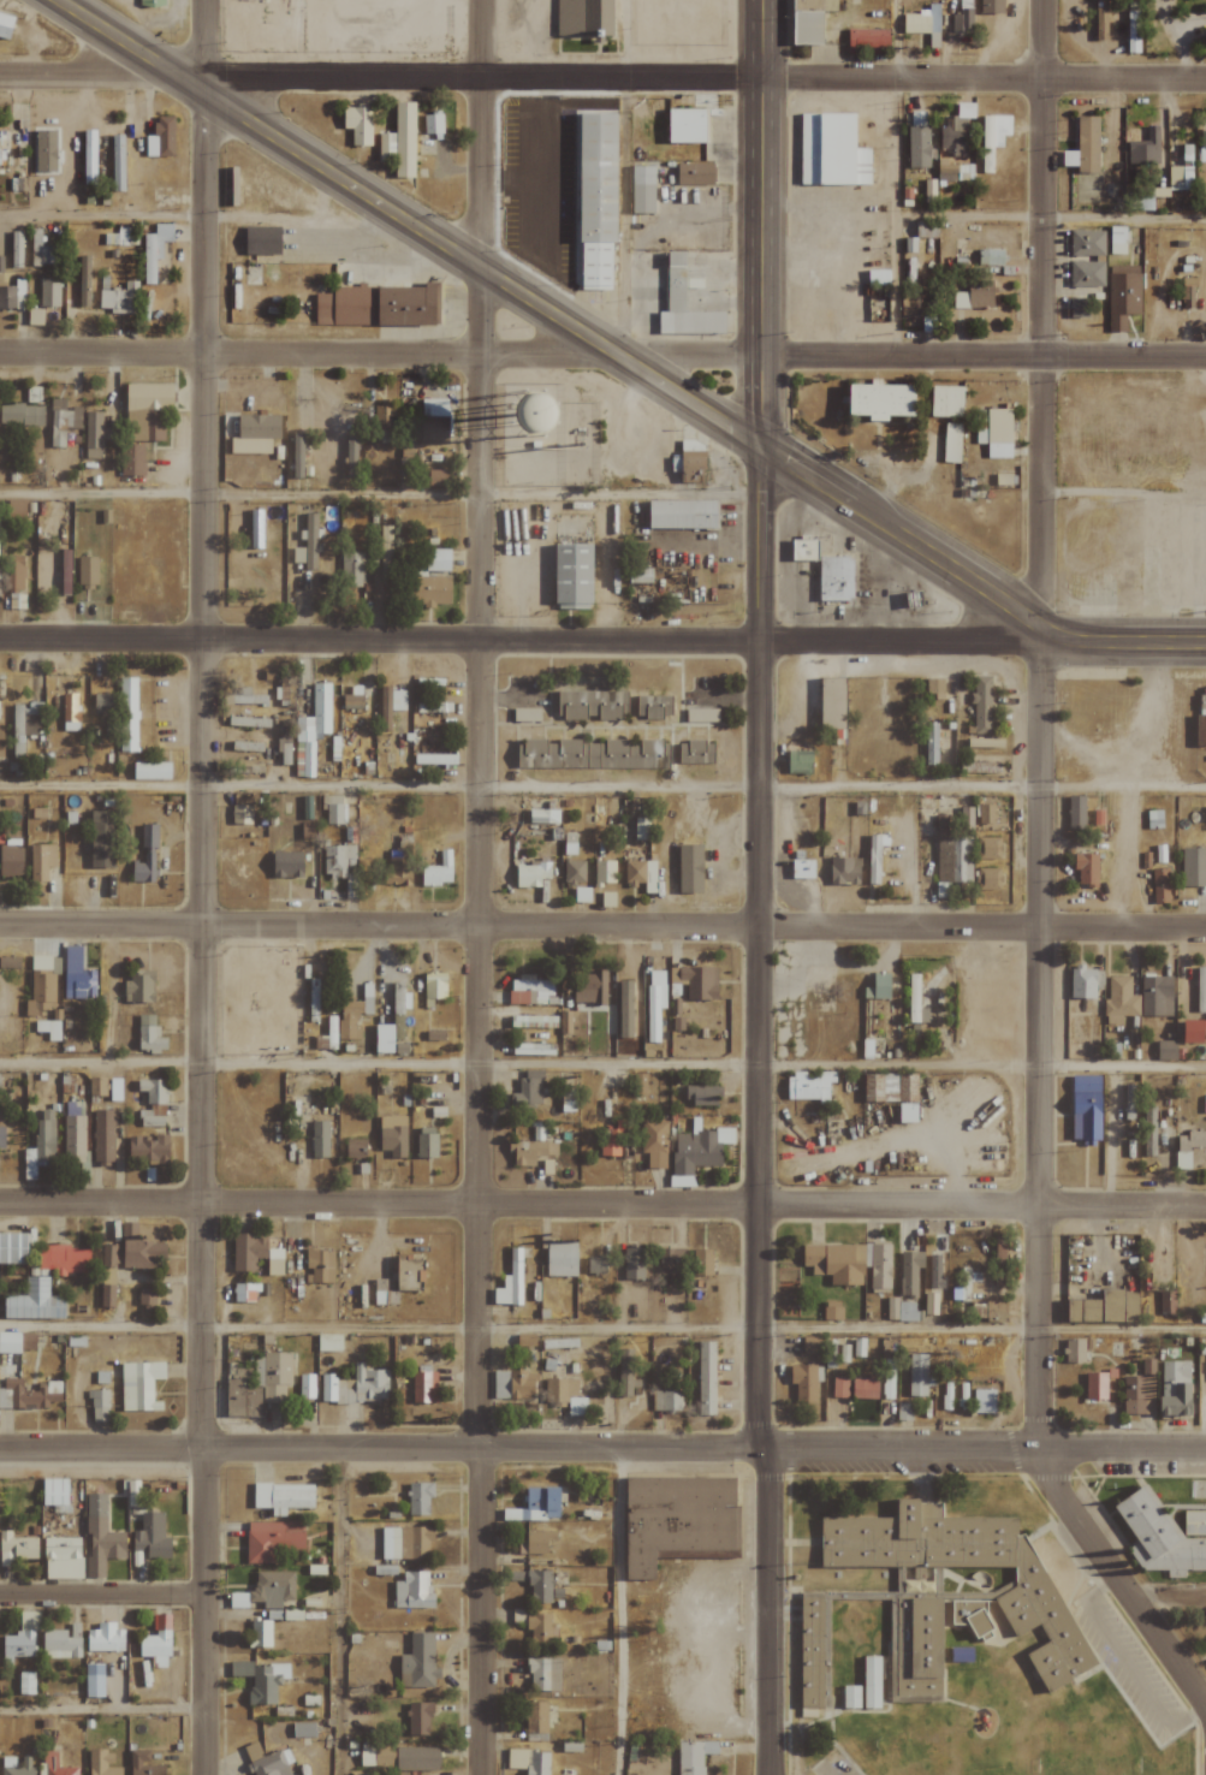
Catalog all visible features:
building: (152, 4)
building: (816, 4)
building: (991, 6)
building: (586, 18)
building: (921, 22)
building: (961, 22)
building: (6, 26)
building: (809, 26)
road: (892, 38)
building: (1133, 38)
building: (868, 40)
road: (79, 72)
road: (481, 76)
road: (982, 78)
building: (358, 125)
building: (433, 125)
building: (688, 125)
building: (952, 136)
building: (161, 138)
building: (992, 138)
building: (916, 139)
building: (405, 141)
building: (1088, 144)
building: (1202, 147)
building: (2, 148)
building: (387, 148)
building: (1146, 149)
building: (44, 150)
building: (831, 150)
building: (90, 158)
building: (118, 164)
building: (953, 172)
building: (696, 174)
building: (1142, 176)
building: (1180, 178)
building: (643, 190)
building: (928, 191)
building: (596, 194)
building: (1139, 200)
road: (101, 214)
road: (1050, 216)
road: (895, 218)
road: (409, 222)
building: (926, 230)
building: (1115, 235)
building: (124, 238)
building: (263, 242)
building: (1086, 243)
building: (16, 250)
building: (155, 250)
building: (40, 251)
building: (990, 257)
building: (1, 265)
building: (1086, 274)
building: (877, 278)
building: (84, 283)
building: (1188, 290)
building: (1123, 293)
building: (49, 295)
building: (12, 297)
building: (119, 298)
building: (973, 299)
building: (910, 303)
building: (685, 305)
building: (346, 307)
building: (409, 307)
building: (1079, 308)
building: (35, 316)
building: (1116, 323)
road: (380, 356)
road: (984, 358)
building: (884, 400)
building: (946, 402)
building: (148, 410)
building: (560, 412)
building: (22, 415)
building: (434, 417)
water tower: (535, 418)
building: (384, 422)
building: (63, 425)
building: (259, 427)
building: (93, 429)
building: (997, 433)
building: (863, 438)
building: (951, 443)
building: (91, 453)
building: (297, 456)
building: (351, 456)
building: (405, 458)
building: (132, 459)
building: (691, 462)
building: (438, 477)
building: (1005, 479)
road: (380, 494)
building: (16, 509)
building: (684, 515)
building: (256, 529)
building: (309, 544)
road: (899, 544)
building: (806, 550)
building: (387, 554)
building: (439, 559)
building: (88, 570)
building: (352, 570)
building: (641, 575)
building: (14, 576)
building: (575, 576)
building: (836, 578)
building: (66, 581)
building: (430, 590)
building: (915, 599)
road: (898, 640)
road: (1122, 640)
road: (380, 641)
building: (17, 685)
building: (934, 687)
building: (244, 697)
building: (0, 701)
building: (352, 701)
building: (833, 704)
building: (981, 704)
building: (103, 705)
building: (593, 705)
building: (391, 706)
building: (655, 706)
building: (434, 707)
building: (71, 712)
building: (129, 714)
building: (702, 714)
building: (257, 723)
road: (202, 724)
road: (759, 724)
building: (24, 725)
road: (1039, 725)
building: (109, 726)
building: (313, 730)
building: (931, 731)
building: (1201, 731)
building: (986, 743)
building: (242, 746)
building: (697, 753)
building: (592, 754)
building: (801, 761)
building: (980, 767)
building: (245, 768)
building: (153, 771)
road: (379, 786)
road: (982, 788)
building: (1076, 812)
building: (242, 814)
building: (335, 814)
building: (987, 814)
building: (1000, 815)
building: (543, 817)
building: (966, 818)
building: (1154, 819)
building: (941, 825)
building: (642, 829)
building: (149, 837)
building: (102, 839)
building: (990, 848)
building: (875, 857)
building: (955, 860)
building: (41, 861)
building: (12, 862)
building: (289, 865)
building: (1193, 867)
building: (690, 868)
building: (144, 869)
building: (803, 869)
building: (1087, 869)
building: (399, 871)
building: (439, 871)
building: (575, 872)
building: (605, 872)
building: (844, 872)
building: (533, 874)
building: (642, 874)
building: (988, 879)
building: (1160, 885)
road: (481, 886)
road: (379, 925)
road: (982, 926)
building: (10, 962)
building: (1200, 981)
building: (700, 983)
building: (1086, 983)
building: (41, 985)
building: (79, 986)
building: (139, 987)
building: (434, 989)
building: (592, 989)
building: (529, 990)
building: (1157, 996)
building: (914, 998)
building: (1119, 1001)
building: (655, 1003)
building: (625, 1009)
building: (350, 1021)
building: (393, 1021)
building: (49, 1029)
building: (1194, 1032)
building: (150, 1035)
building: (435, 1035)
building: (1165, 1051)
road: (602, 1064)
building: (640, 1084)
building: (809, 1086)
building: (885, 1086)
building: (97, 1087)
building: (153, 1091)
building: (527, 1094)
building: (701, 1094)
building: (1128, 1102)
building: (1087, 1109)
building: (909, 1114)
building: (150, 1120)
building: (1147, 1130)
building: (539, 1132)
building: (73, 1136)
building: (103, 1136)
building: (393, 1136)
building: (2, 1138)
building: (320, 1139)
building: (427, 1142)
building: (654, 1142)
building: (1188, 1147)
building: (40, 1148)
building: (149, 1148)
building: (356, 1148)
building: (700, 1150)
building: (533, 1152)
road: (379, 1206)
road: (981, 1207)
building: (14, 1248)
building: (141, 1251)
building: (249, 1252)
building: (108, 1255)
building: (1000, 1257)
building: (672, 1258)
building: (65, 1259)
building: (562, 1259)
building: (702, 1262)
building: (634, 1264)
building: (851, 1264)
building: (598, 1265)
building: (320, 1266)
building: (275, 1268)
building: (409, 1271)
building: (909, 1271)
building: (934, 1271)
building: (512, 1282)
building: (964, 1284)
building: (244, 1293)
building: (107, 1296)
building: (385, 1298)
building: (147, 1301)
building: (1166, 1301)
building: (36, 1302)
building: (932, 1305)
building: (1106, 1307)
building: (833, 1311)
building: (899, 1311)
road: (843, 1328)
road: (240, 1329)
building: (527, 1341)
building: (10, 1342)
building: (329, 1343)
building: (559, 1343)
building: (825, 1350)
building: (1074, 1350)
building: (278, 1370)
building: (626, 1375)
building: (919, 1376)
building: (706, 1378)
building: (803, 1383)
building: (513, 1384)
building: (364, 1385)
building: (141, 1387)
building: (307, 1387)
building: (424, 1387)
building: (866, 1387)
building: (1095, 1387)
building: (328, 1388)
building: (839, 1388)
building: (1176, 1389)
building: (1140, 1391)
building: (246, 1394)
building: (32, 1395)
building: (566, 1395)
building: (667, 1401)
building: (985, 1401)
building: (100, 1406)
building: (904, 1411)
road: (982, 1449)
road: (380, 1450)
building: (57, 1494)
building: (283, 1497)
building: (420, 1498)
building: (543, 1503)
building: (96, 1504)
building: (678, 1519)
building: (1195, 1522)
building: (152, 1537)
building: (1160, 1537)
building: (273, 1539)
building: (406, 1543)
building: (536, 1543)
building: (103, 1545)
building: (17, 1548)
building: (64, 1559)
building: (600, 1575)
road: (1116, 1580)
building: (540, 1586)
building: (273, 1589)
building: (412, 1590)
building: (1029, 1591)
road: (100, 1595)
road: (1166, 1595)
building: (903, 1608)
road: (201, 1611)
road: (620, 1611)
road: (762, 1611)
road: (337, 1613)
building: (518, 1616)
building: (974, 1616)
building: (541, 1631)
building: (261, 1633)
building: (106, 1638)
building: (22, 1639)
building: (1205, 1642)
building: (60, 1645)
building: (156, 1648)
building: (810, 1652)
building: (923, 1652)
building: (418, 1662)
road: (1125, 1664)
parking lot: (1127, 1664)
building: (543, 1674)
building: (94, 1680)
building: (261, 1680)
building: (872, 1682)
building: (26, 1684)
building: (851, 1697)
road: (100, 1709)
building: (420, 1720)
building: (536, 1721)
building: (303, 1731)
building: (572, 1746)
building: (694, 1756)
building: (378, 1757)
building: (418, 1758)
building: (268, 1761)
building: (529, 1761)
building: (8, 1762)
building: (102, 1763)
building: (143, 1764)
building: (53, 1765)
parking lot: (833, 1768)
road: (822, 1770)

